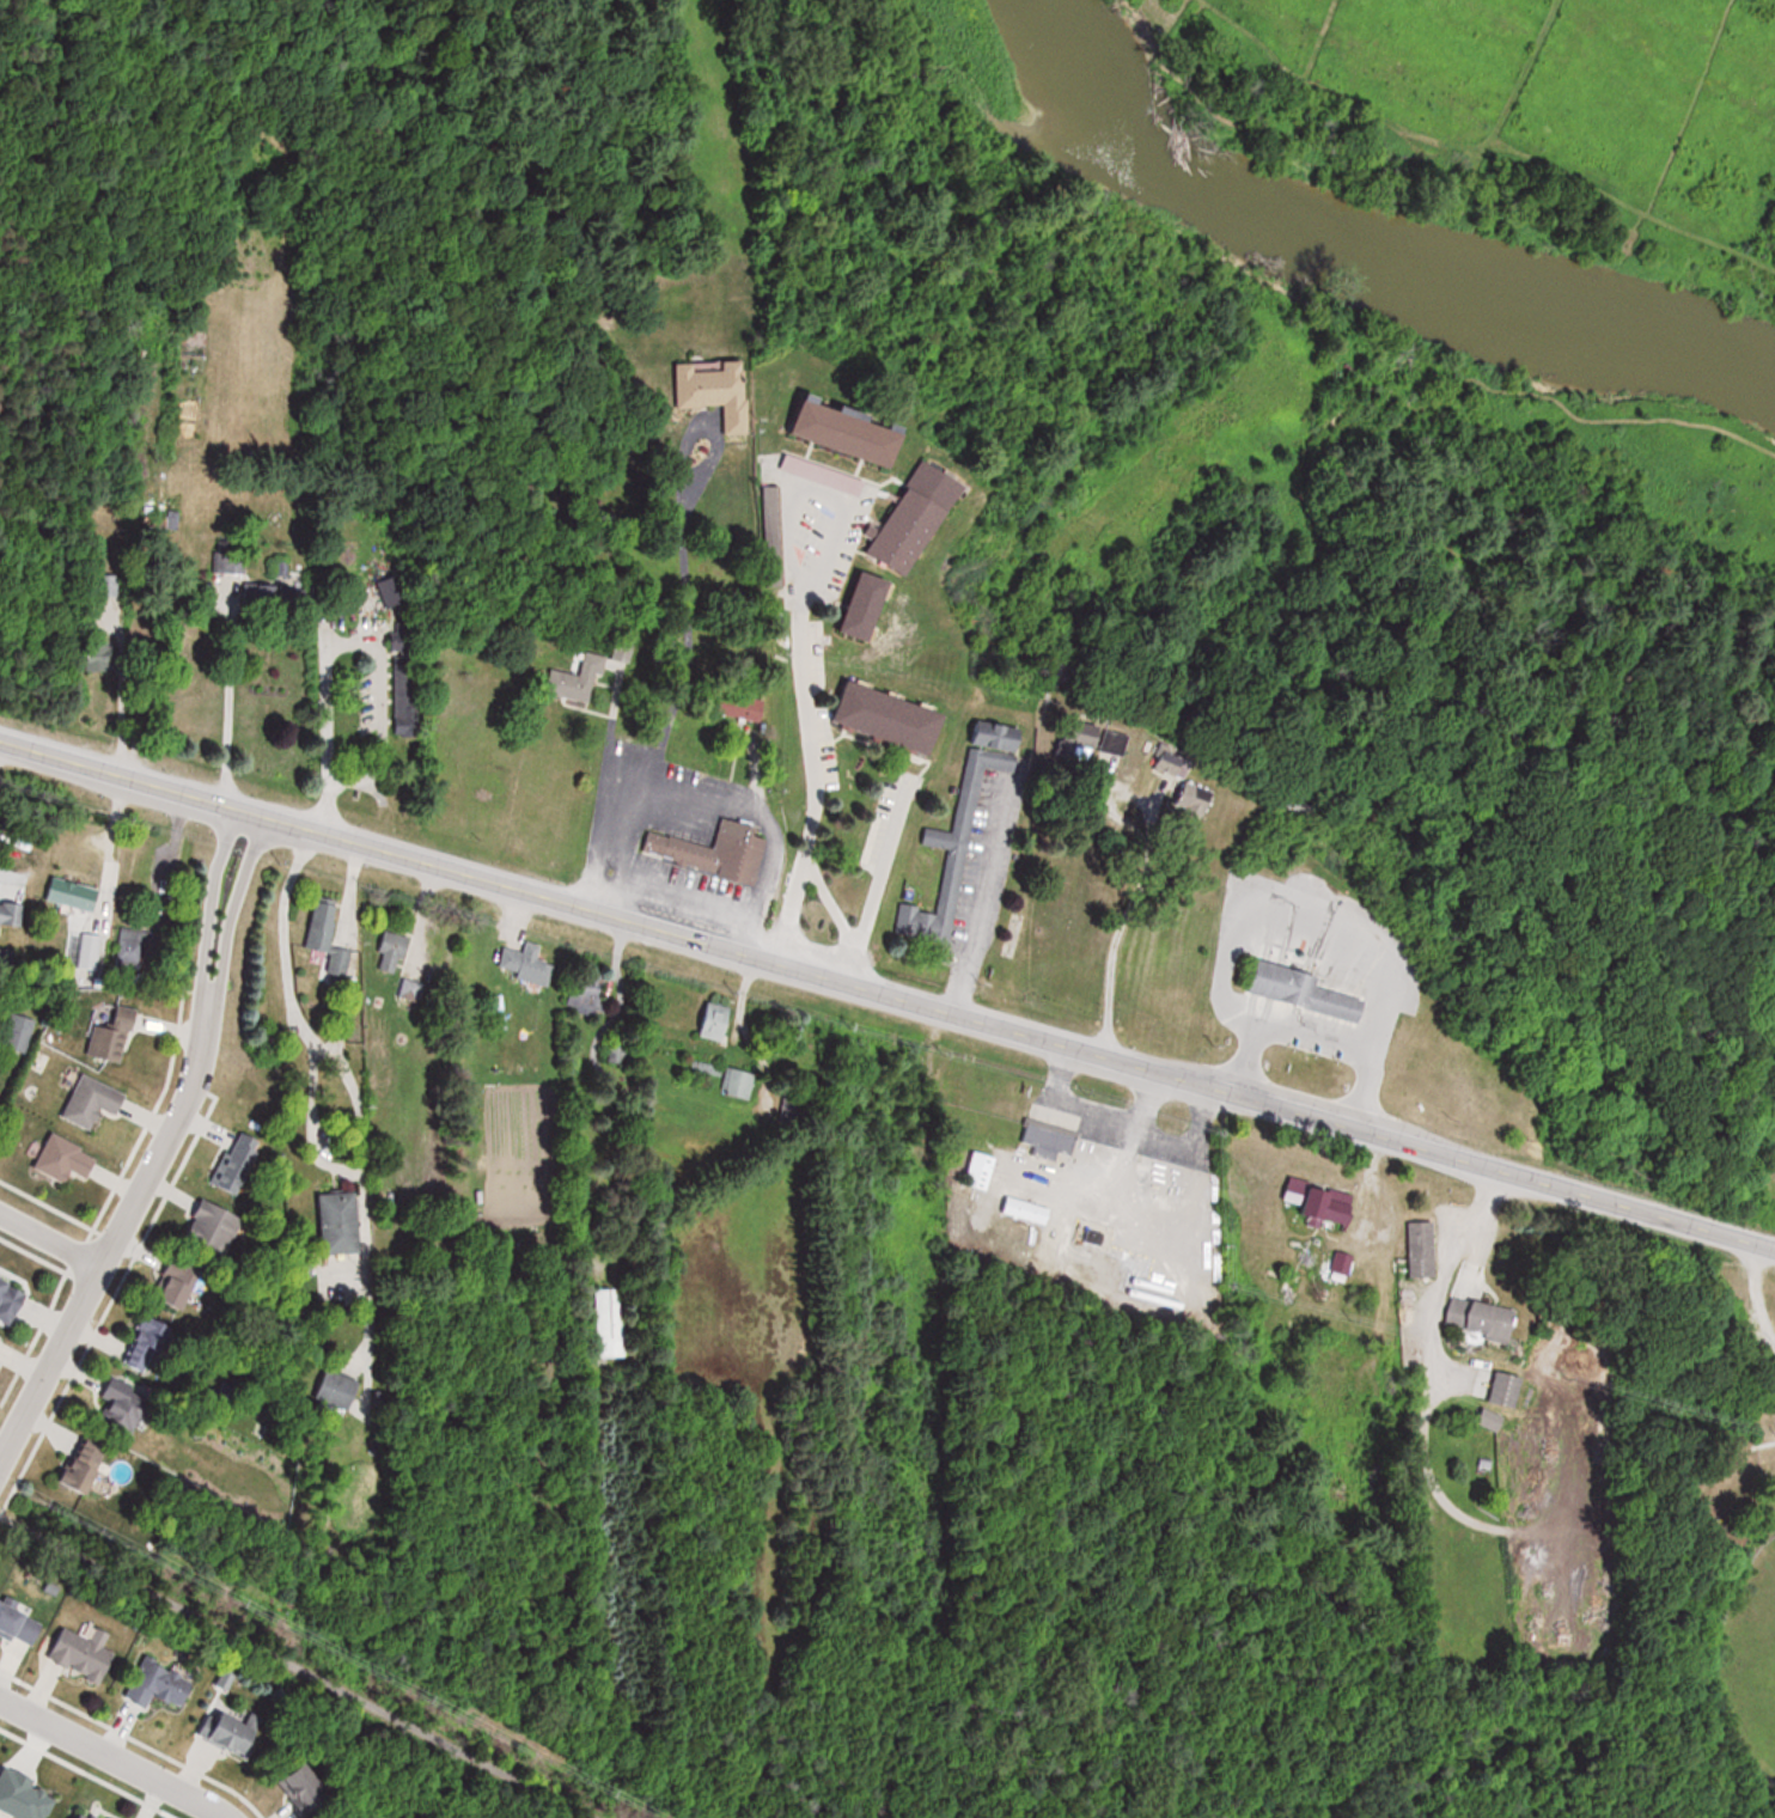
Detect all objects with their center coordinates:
river: (1353, 232)
building: (718, 390)
building: (854, 433)
building: (825, 475)
building: (774, 514)
building: (919, 518)
road: (684, 537)
building: (230, 561)
building: (396, 596)
building: (871, 606)
road: (353, 646)
building: (580, 679)
building: (405, 695)
road: (215, 701)
building: (893, 719)
building: (1087, 734)
road: (812, 750)
building: (1167, 757)
building: (1194, 797)
building: (971, 819)
road: (633, 836)
building: (702, 843)
road: (878, 872)
road: (4, 884)
building: (75, 895)
road: (978, 908)
building: (8, 915)
road: (840, 921)
road: (1104, 925)
building: (328, 942)
building: (133, 947)
building: (89, 952)
building: (399, 954)
building: (527, 965)
road: (288, 972)
building: (1276, 981)
building: (587, 993)
road: (886, 998)
building: (716, 1020)
building: (20, 1033)
road: (1315, 1038)
building: (111, 1039)
building: (742, 1082)
building: (0, 1100)
building: (93, 1100)
road: (1096, 1110)
road: (1182, 1135)
building: (1050, 1140)
road: (159, 1152)
building: (66, 1158)
building: (230, 1163)
building: (983, 1169)
building: (330, 1220)
building: (205, 1230)
road: (49, 1239)
building: (1423, 1247)
road: (1441, 1275)
building: (177, 1280)
building: (11, 1300)
road: (1753, 1307)
building: (1481, 1317)
building: (605, 1323)
building: (0, 1336)
building: (145, 1346)
building: (330, 1387)
building: (1507, 1389)
building: (126, 1403)
building: (1494, 1420)
building: (85, 1464)
building: (20, 1622)
building: (84, 1653)
road: (294, 1667)
building: (161, 1685)
building: (230, 1732)
road: (111, 1756)
building: (310, 1788)
building: (90, 1817)

